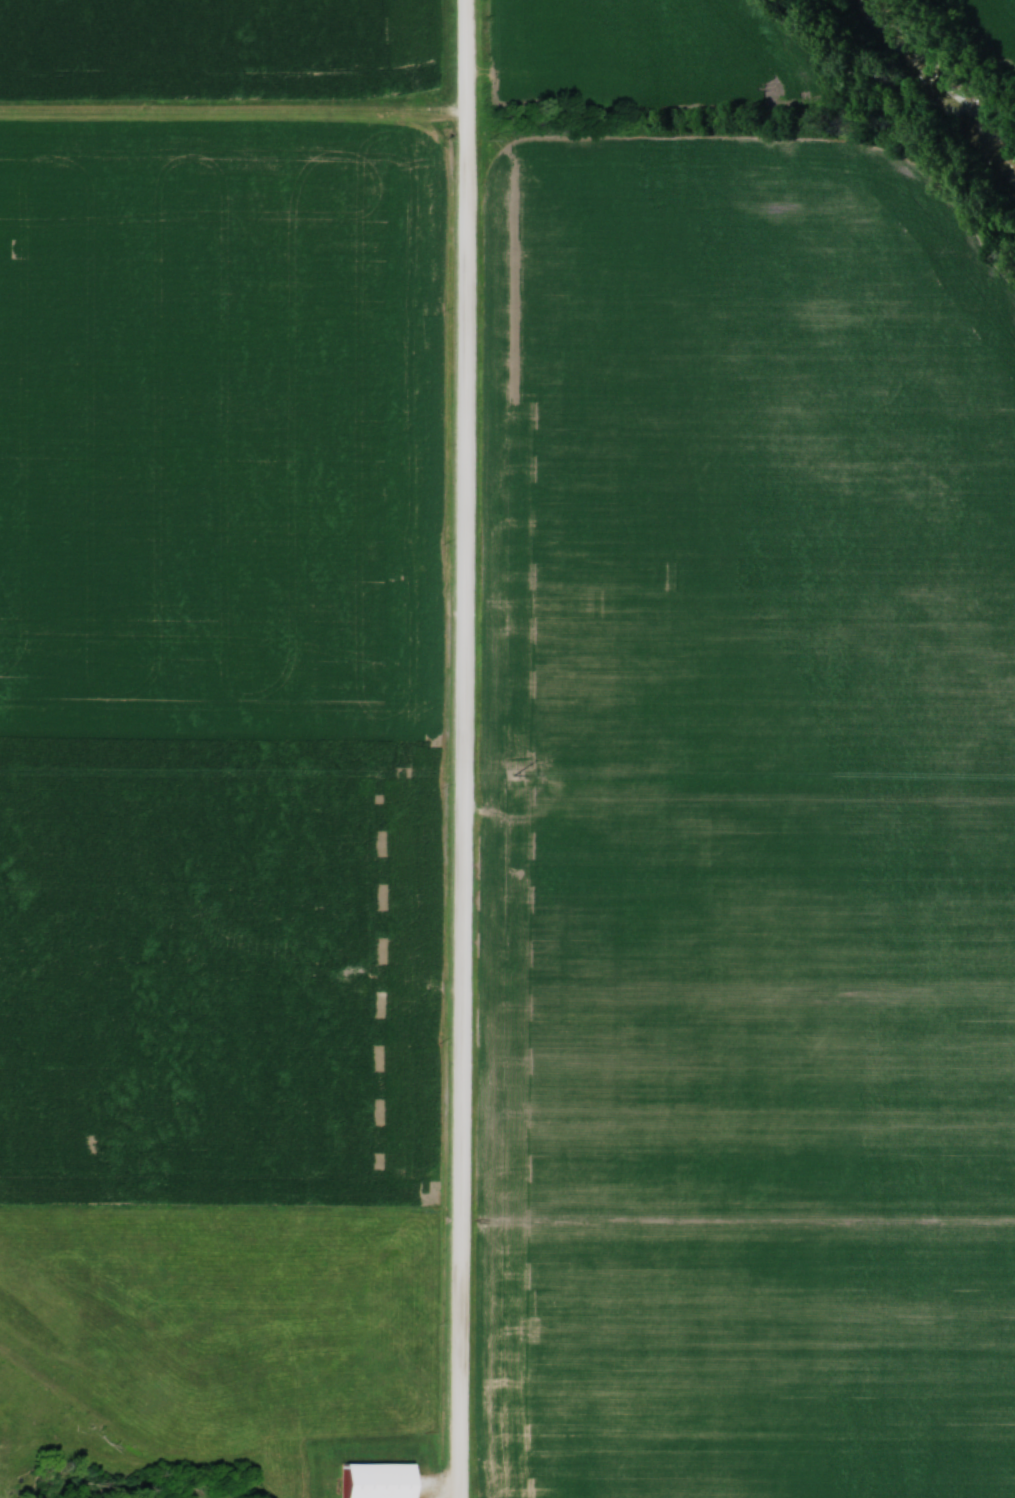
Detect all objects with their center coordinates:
crop: (216, 47)
crop: (654, 55)
river: (938, 83)
road: (467, 749)
building: (380, 1485)

